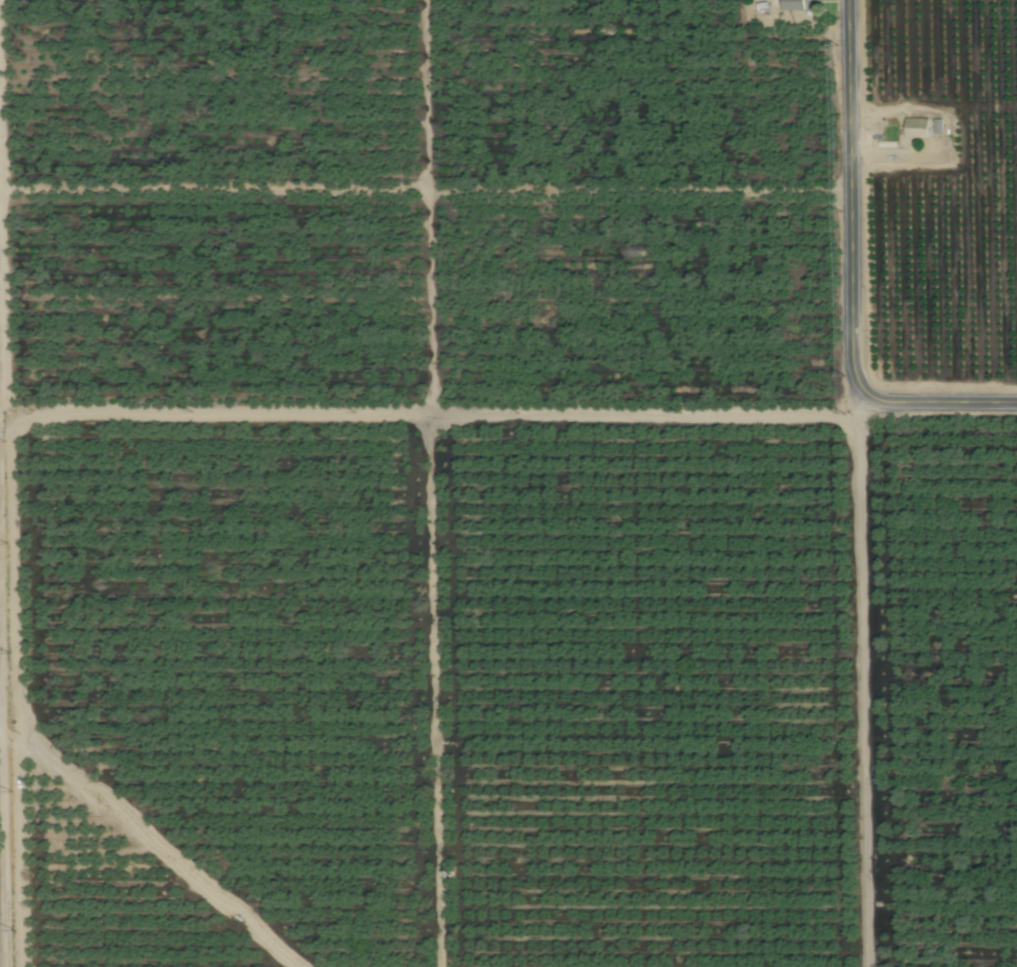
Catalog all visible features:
building: (796, 4)
building: (936, 126)
building: (915, 128)
road: (853, 198)
road: (942, 404)
road: (159, 417)
road: (2, 728)

